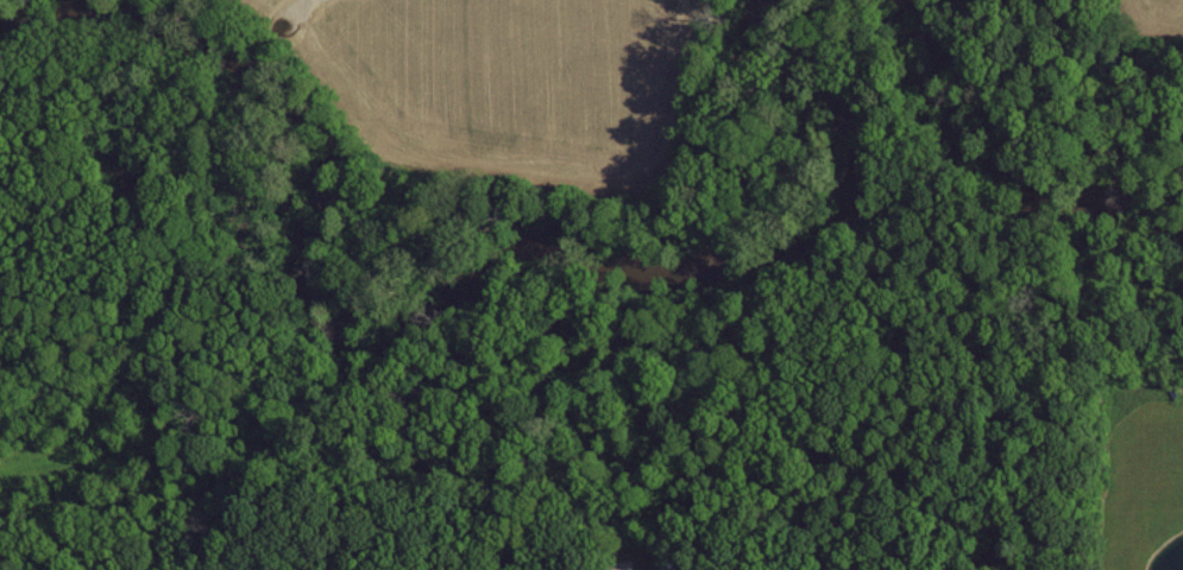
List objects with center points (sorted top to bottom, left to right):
crop: (1147, 31)
crop: (459, 75)

